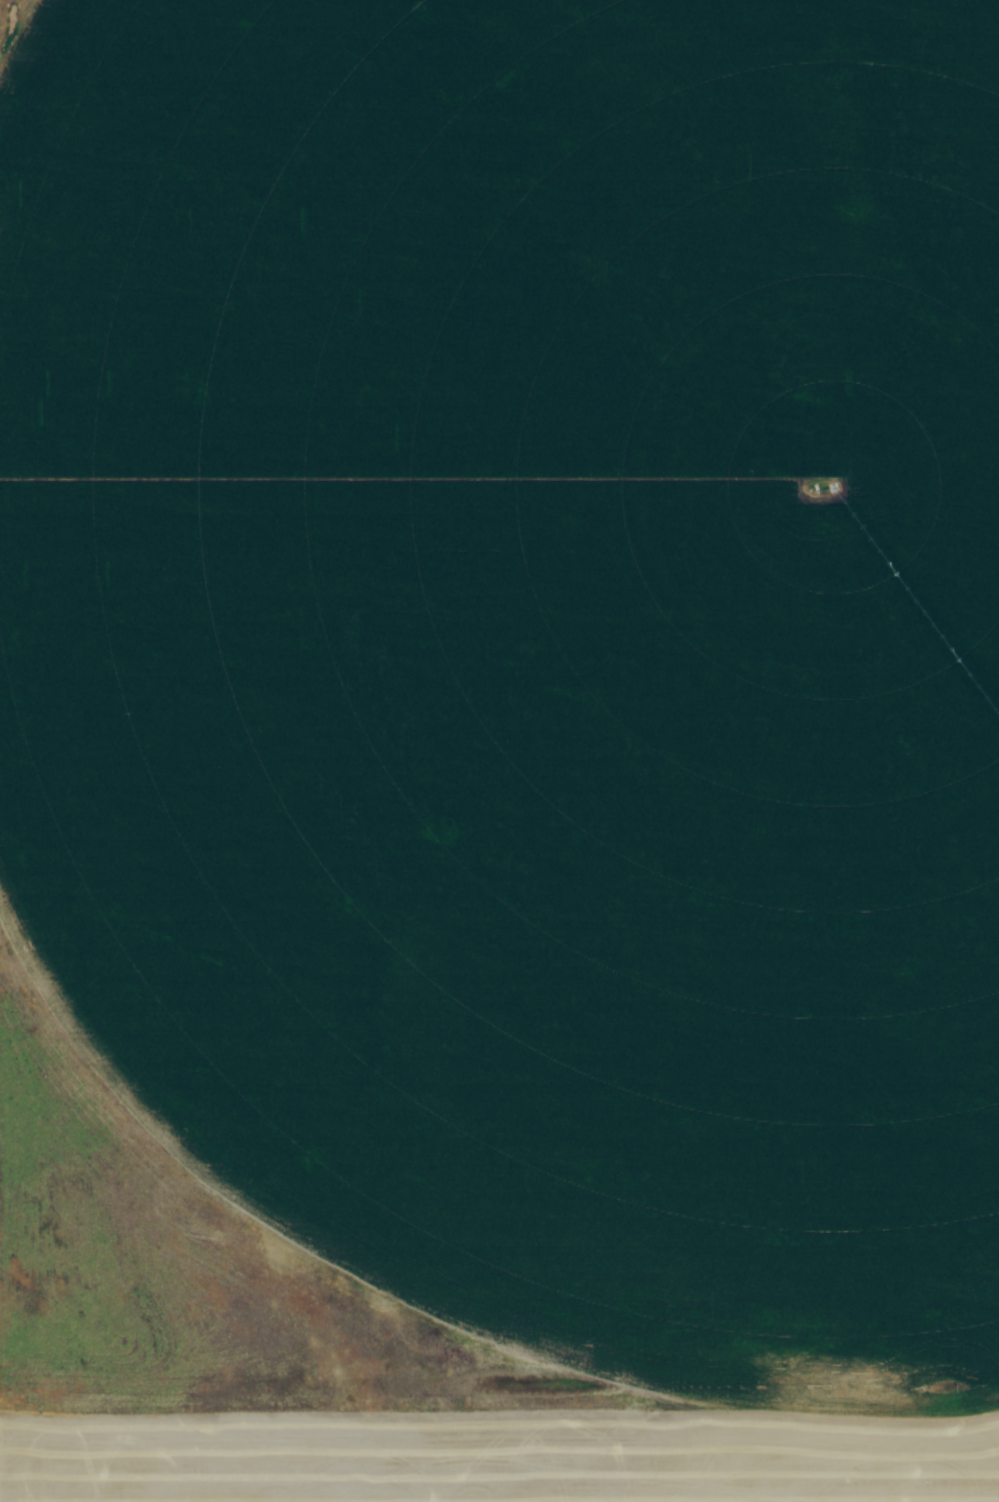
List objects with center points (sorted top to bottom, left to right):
crop: (499, 751)

